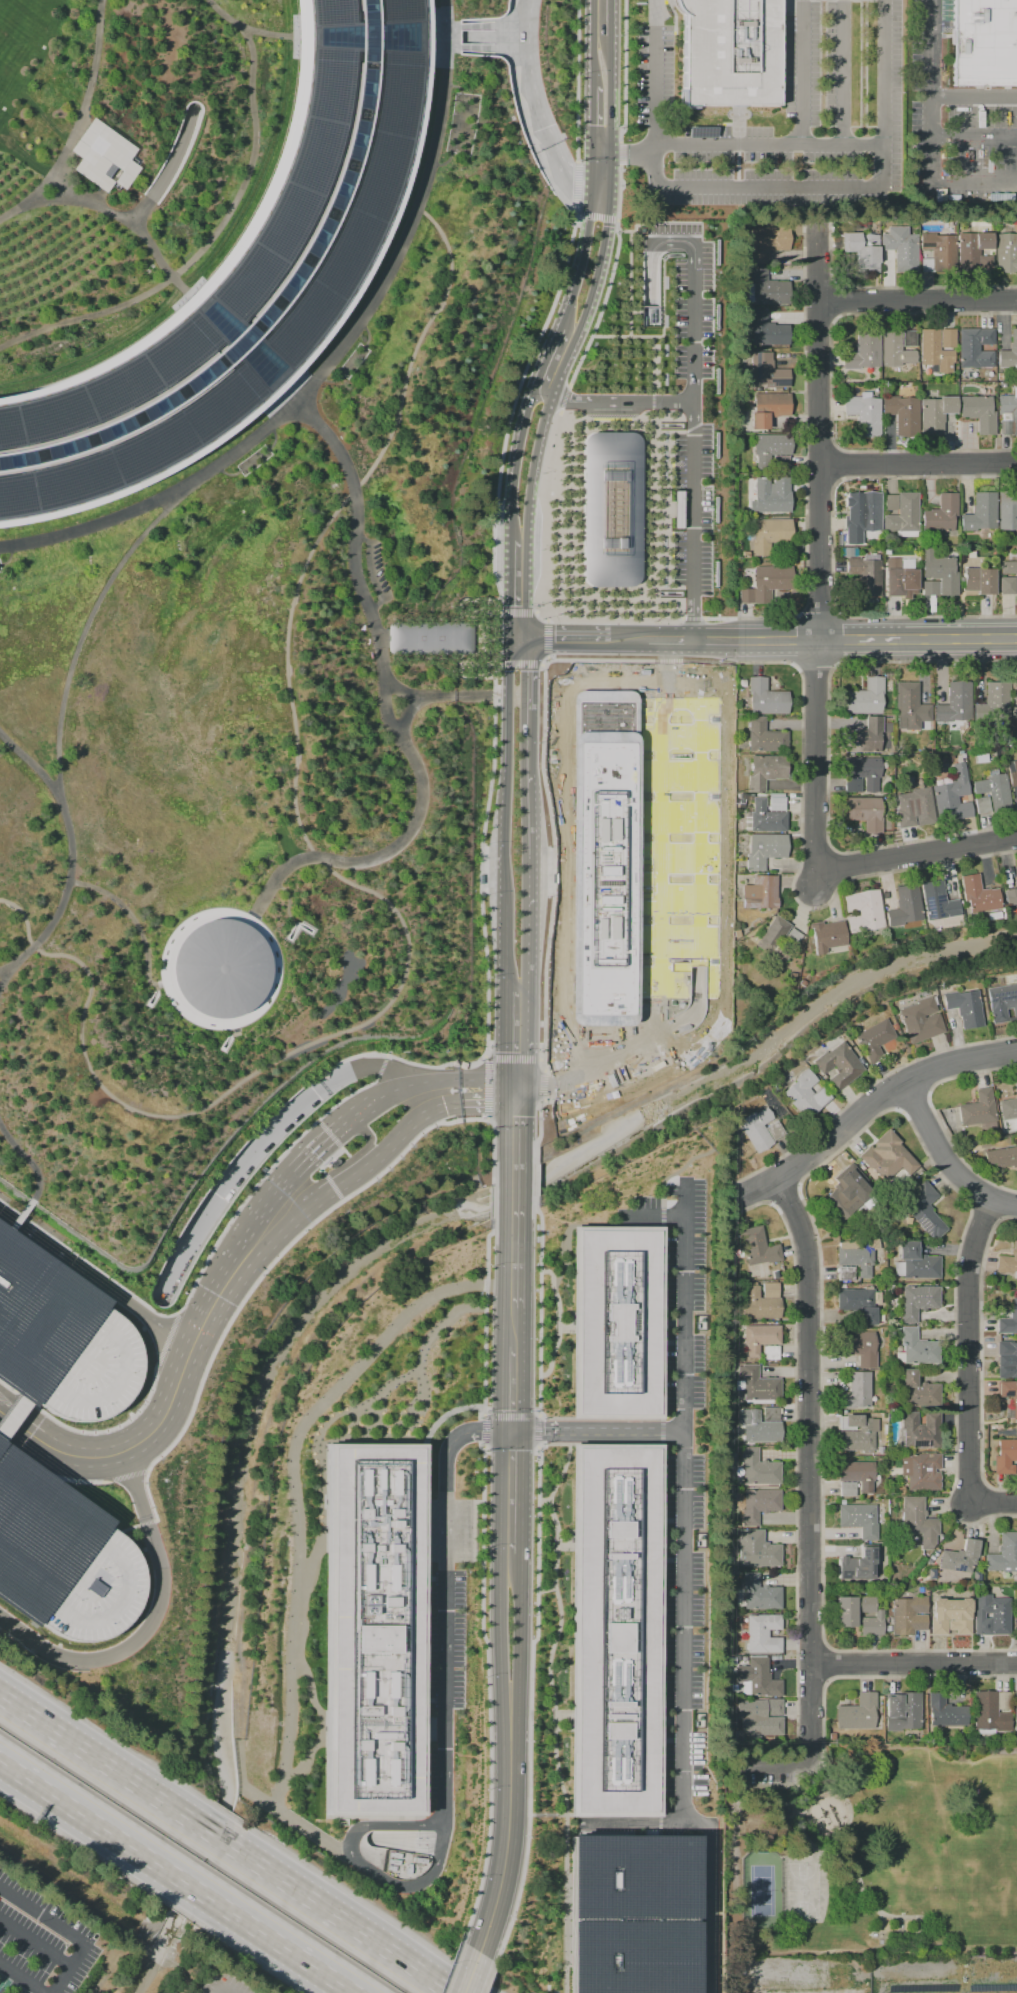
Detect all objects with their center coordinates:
road: (466, 18)
road: (609, 18)
road: (275, 34)
road: (449, 40)
road: (500, 41)
road: (593, 43)
building: (986, 43)
building: (728, 52)
road: (466, 65)
road: (801, 71)
road: (653, 72)
road: (844, 72)
road: (530, 74)
road: (608, 94)
road: (932, 97)
road: (974, 100)
road: (592, 118)
building: (701, 132)
road: (974, 142)
road: (769, 143)
road: (655, 149)
building: (98, 151)
traffic signals: (592, 151)
road: (600, 151)
traffic signals: (608, 152)
road: (631, 152)
road: (172, 165)
road: (569, 168)
road: (592, 168)
road: (655, 170)
road: (607, 171)
road: (55, 184)
traffic signals: (592, 186)
road: (863, 187)
road: (599, 188)
traffic signals: (606, 190)
road: (973, 193)
road: (60, 204)
road: (29, 206)
road: (214, 230)
building: (769, 244)
building: (904, 249)
building: (865, 252)
building: (1006, 252)
building: (976, 253)
building: (941, 254)
road: (583, 258)
road: (815, 260)
road: (818, 284)
road: (892, 287)
building: (249, 288)
building: (769, 290)
road: (588, 294)
road: (916, 298)
road: (835, 300)
road: (820, 317)
building: (769, 332)
road: (367, 335)
building: (947, 338)
building: (909, 339)
building: (975, 348)
building: (864, 350)
building: (895, 351)
building: (933, 352)
building: (1009, 352)
road: (545, 357)
road: (341, 372)
building: (770, 373)
road: (830, 381)
road: (692, 384)
building: (842, 388)
road: (541, 390)
parking lot: (694, 399)
road: (619, 401)
road: (298, 403)
building: (771, 410)
building: (864, 413)
building: (902, 413)
building: (978, 413)
building: (934, 414)
building: (1014, 416)
road: (819, 446)
building: (772, 450)
road: (515, 462)
road: (917, 463)
road: (835, 464)
road: (530, 465)
road: (805, 466)
road: (820, 483)
building: (676, 496)
building: (770, 500)
building: (890, 502)
building: (608, 505)
building: (676, 508)
building: (1007, 510)
building: (903, 513)
building: (941, 513)
building: (980, 513)
building: (865, 514)
building: (676, 521)
building: (772, 536)
road: (831, 546)
building: (848, 551)
building: (904, 564)
building: (1009, 568)
building: (940, 571)
building: (866, 575)
building: (898, 578)
building: (979, 580)
building: (768, 585)
building: (1006, 585)
building: (929, 588)
road: (509, 589)
road: (522, 589)
road: (818, 590)
road: (817, 616)
road: (692, 618)
road: (713, 635)
road: (775, 635)
road: (670, 636)
road: (917, 636)
road: (566, 637)
road: (627, 637)
traffic signals: (508, 638)
road: (515, 638)
traffic signals: (523, 638)
building: (424, 643)
road: (487, 645)
road: (710, 661)
road: (691, 665)
road: (814, 666)
road: (508, 667)
road: (521, 672)
flagpole: (790, 673)
road: (439, 696)
building: (864, 697)
building: (768, 700)
road: (392, 702)
building: (992, 702)
road: (385, 704)
building: (954, 704)
building: (1013, 705)
building: (909, 706)
building: (884, 736)
building: (863, 737)
building: (766, 738)
road: (521, 739)
road: (49, 747)
road: (26, 758)
road: (825, 759)
building: (863, 771)
building: (767, 772)
building: (1011, 772)
building: (852, 785)
building: (993, 791)
building: (952, 796)
road: (506, 797)
building: (981, 804)
building: (914, 808)
building: (864, 813)
building: (771, 815)
road: (522, 826)
parking lot: (678, 838)
road: (698, 842)
building: (767, 851)
road: (912, 854)
road: (656, 855)
building: (603, 858)
road: (335, 869)
building: (1015, 875)
road: (566, 878)
road: (298, 886)
building: (763, 894)
building: (979, 894)
building: (1010, 897)
building: (937, 901)
building: (905, 906)
building: (863, 910)
road: (135, 916)
road: (230, 925)
building: (829, 937)
building: (781, 940)
road: (259, 942)
road: (504, 945)
building: (225, 966)
road: (282, 966)
road: (522, 983)
road: (156, 987)
building: (1002, 1001)
building: (964, 1007)
road: (691, 1012)
building: (920, 1020)
road: (239, 1038)
building: (874, 1038)
road: (505, 1040)
road: (484, 1056)
road: (511, 1058)
road: (540, 1059)
road: (471, 1062)
road: (381, 1065)
road: (542, 1065)
building: (838, 1065)
road: (543, 1070)
road: (589, 1071)
road: (319, 1075)
road: (918, 1079)
road: (441, 1080)
road: (542, 1083)
traffic signals: (517, 1084)
road: (486, 1086)
road: (866, 1087)
road: (885, 1092)
building: (805, 1094)
road: (885, 1094)
road: (489, 1099)
road: (914, 1104)
building: (1008, 1108)
building: (977, 1109)
road: (934, 1113)
road: (353, 1114)
road: (486, 1117)
road: (472, 1118)
road: (408, 1124)
building: (756, 1129)
building: (774, 1130)
road: (328, 1133)
road: (367, 1137)
road: (259, 1148)
road: (307, 1157)
building: (886, 1157)
building: (1001, 1157)
road: (327, 1159)
road: (945, 1159)
road: (23, 1164)
road: (788, 1174)
road: (259, 1179)
road: (347, 1180)
road: (332, 1186)
road: (976, 1192)
road: (799, 1194)
road: (515, 1195)
road: (307, 1196)
building: (841, 1197)
road: (786, 1199)
road: (1002, 1205)
building: (923, 1208)
road: (983, 1212)
road: (18, 1215)
road: (273, 1216)
building: (758, 1247)
road: (539, 1254)
building: (857, 1254)
building: (1008, 1261)
road: (86, 1262)
building: (915, 1263)
road: (269, 1264)
road: (486, 1265)
road: (232, 1272)
building: (846, 1273)
road: (95, 1276)
building: (769, 1289)
parking lot: (685, 1294)
building: (917, 1301)
building: (758, 1303)
building: (857, 1303)
building: (615, 1314)
building: (1008, 1320)
road: (558, 1321)
road: (512, 1326)
road: (199, 1329)
road: (165, 1337)
building: (760, 1337)
building: (61, 1340)
parking garage: (61, 1340)
road: (966, 1346)
building: (859, 1347)
building: (916, 1348)
building: (770, 1353)
road: (980, 1357)
building: (1012, 1360)
road: (9, 1386)
building: (757, 1386)
building: (919, 1386)
road: (511, 1388)
building: (856, 1391)
road: (11, 1397)
building: (1008, 1397)
road: (25, 1399)
road: (25, 1401)
road: (12, 1410)
road: (340, 1412)
building: (770, 1414)
road: (511, 1417)
road: (46, 1425)
building: (759, 1427)
road: (110, 1429)
road: (484, 1429)
road: (490, 1429)
traffic signals: (511, 1430)
road: (533, 1430)
road: (618, 1431)
building: (921, 1431)
road: (29, 1432)
road: (537, 1432)
road: (148, 1433)
building: (856, 1433)
road: (2, 1435)
road: (807, 1437)
road: (2, 1443)
road: (551, 1445)
road: (27, 1448)
road: (446, 1454)
road: (794, 1454)
building: (1004, 1456)
building: (758, 1468)
building: (921, 1471)
building: (858, 1474)
road: (51, 1475)
road: (126, 1476)
road: (293, 1481)
building: (847, 1489)
road: (519, 1490)
road: (148, 1496)
road: (992, 1499)
road: (542, 1501)
building: (758, 1504)
building: (857, 1522)
building: (918, 1522)
road: (146, 1523)
road: (125, 1529)
building: (758, 1550)
building: (1004, 1554)
building: (960, 1557)
building: (63, 1561)
parking garage: (63, 1561)
building: (857, 1562)
road: (665, 1565)
road: (500, 1586)
road: (545, 1589)
building: (760, 1590)
road: (424, 1592)
building: (1016, 1604)
road: (681, 1613)
building: (846, 1614)
building: (990, 1614)
building: (908, 1615)
building: (950, 1616)
road: (151, 1619)
building: (615, 1627)
parking lot: (685, 1627)
building: (373, 1628)
building: (887, 1628)
road: (558, 1629)
building: (762, 1633)
road: (812, 1646)
road: (517, 1648)
road: (442, 1658)
road: (913, 1662)
road: (828, 1663)
road: (889, 1675)
building: (758, 1677)
road: (812, 1681)
road: (487, 1693)
road: (529, 1706)
building: (1015, 1710)
building: (903, 1711)
building: (944, 1712)
building: (858, 1713)
building: (987, 1714)
building: (758, 1719)
road: (321, 1726)
road: (102, 1762)
road: (770, 1766)
parking lot: (766, 1778)
road: (276, 1809)
road: (91, 1822)
road: (672, 1823)
road: (211, 1833)
road: (388, 1842)
road: (428, 1842)
road: (505, 1849)
park: (876, 1855)
road: (356, 1865)
road: (861, 1885)
road: (189, 1886)
park: (762, 1890)
park: (802, 1890)
road: (335, 1915)
building: (628, 1916)
road: (66, 1932)
road: (274, 1942)
road: (34, 1943)
parking lot: (40, 1944)
building: (80, 1966)
road: (451, 1967)
road: (470, 1972)
road: (488, 1977)
road: (22, 1978)
parking lot: (223, 1984)
road: (219, 1992)
road: (221, 1992)

